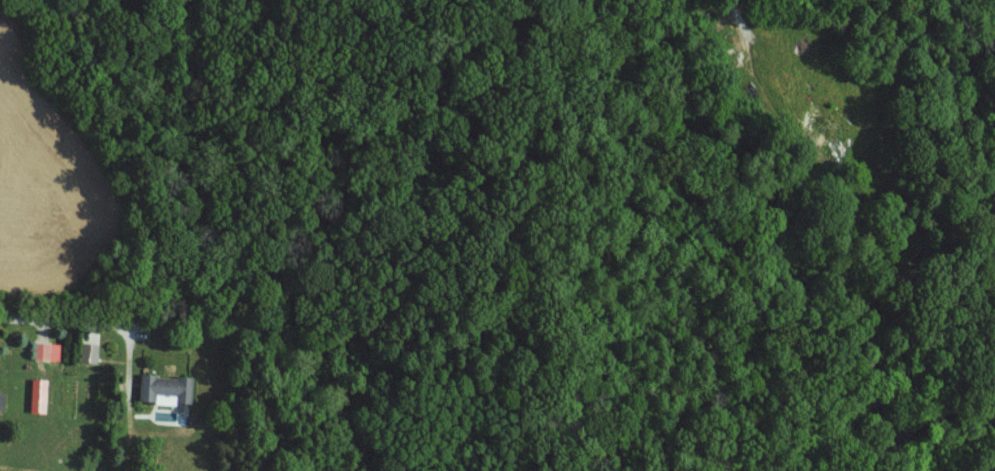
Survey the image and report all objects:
road: (736, 3)
building: (49, 351)
building: (89, 352)
building: (167, 388)
building: (40, 395)

